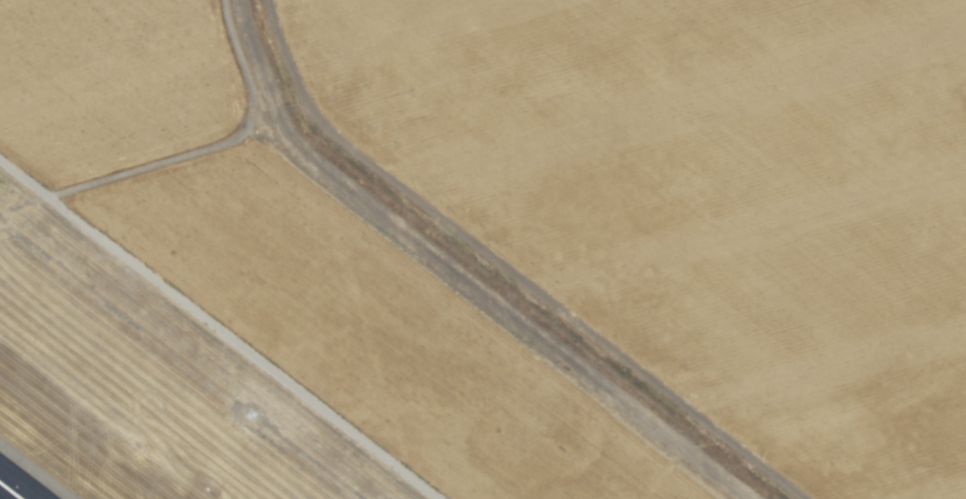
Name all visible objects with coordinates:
crop: (493, 244)
airport: (49, 462)

